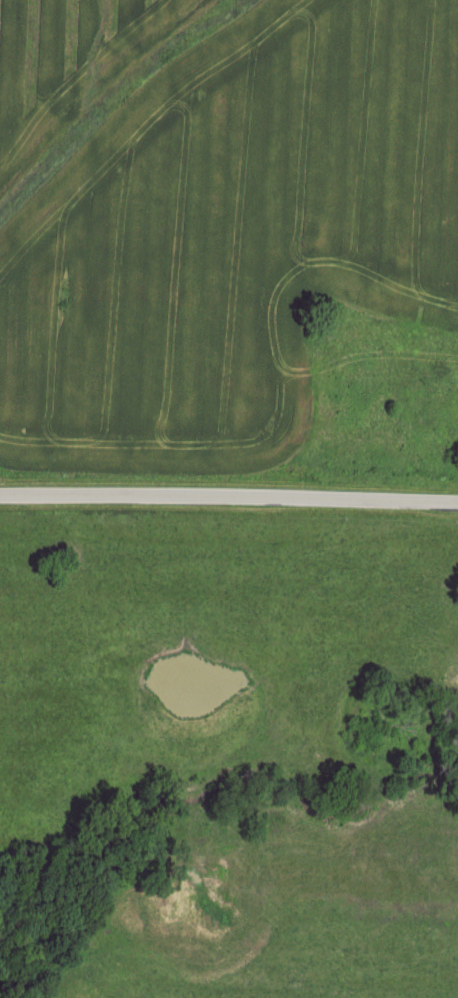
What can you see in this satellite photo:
road: (229, 508)

